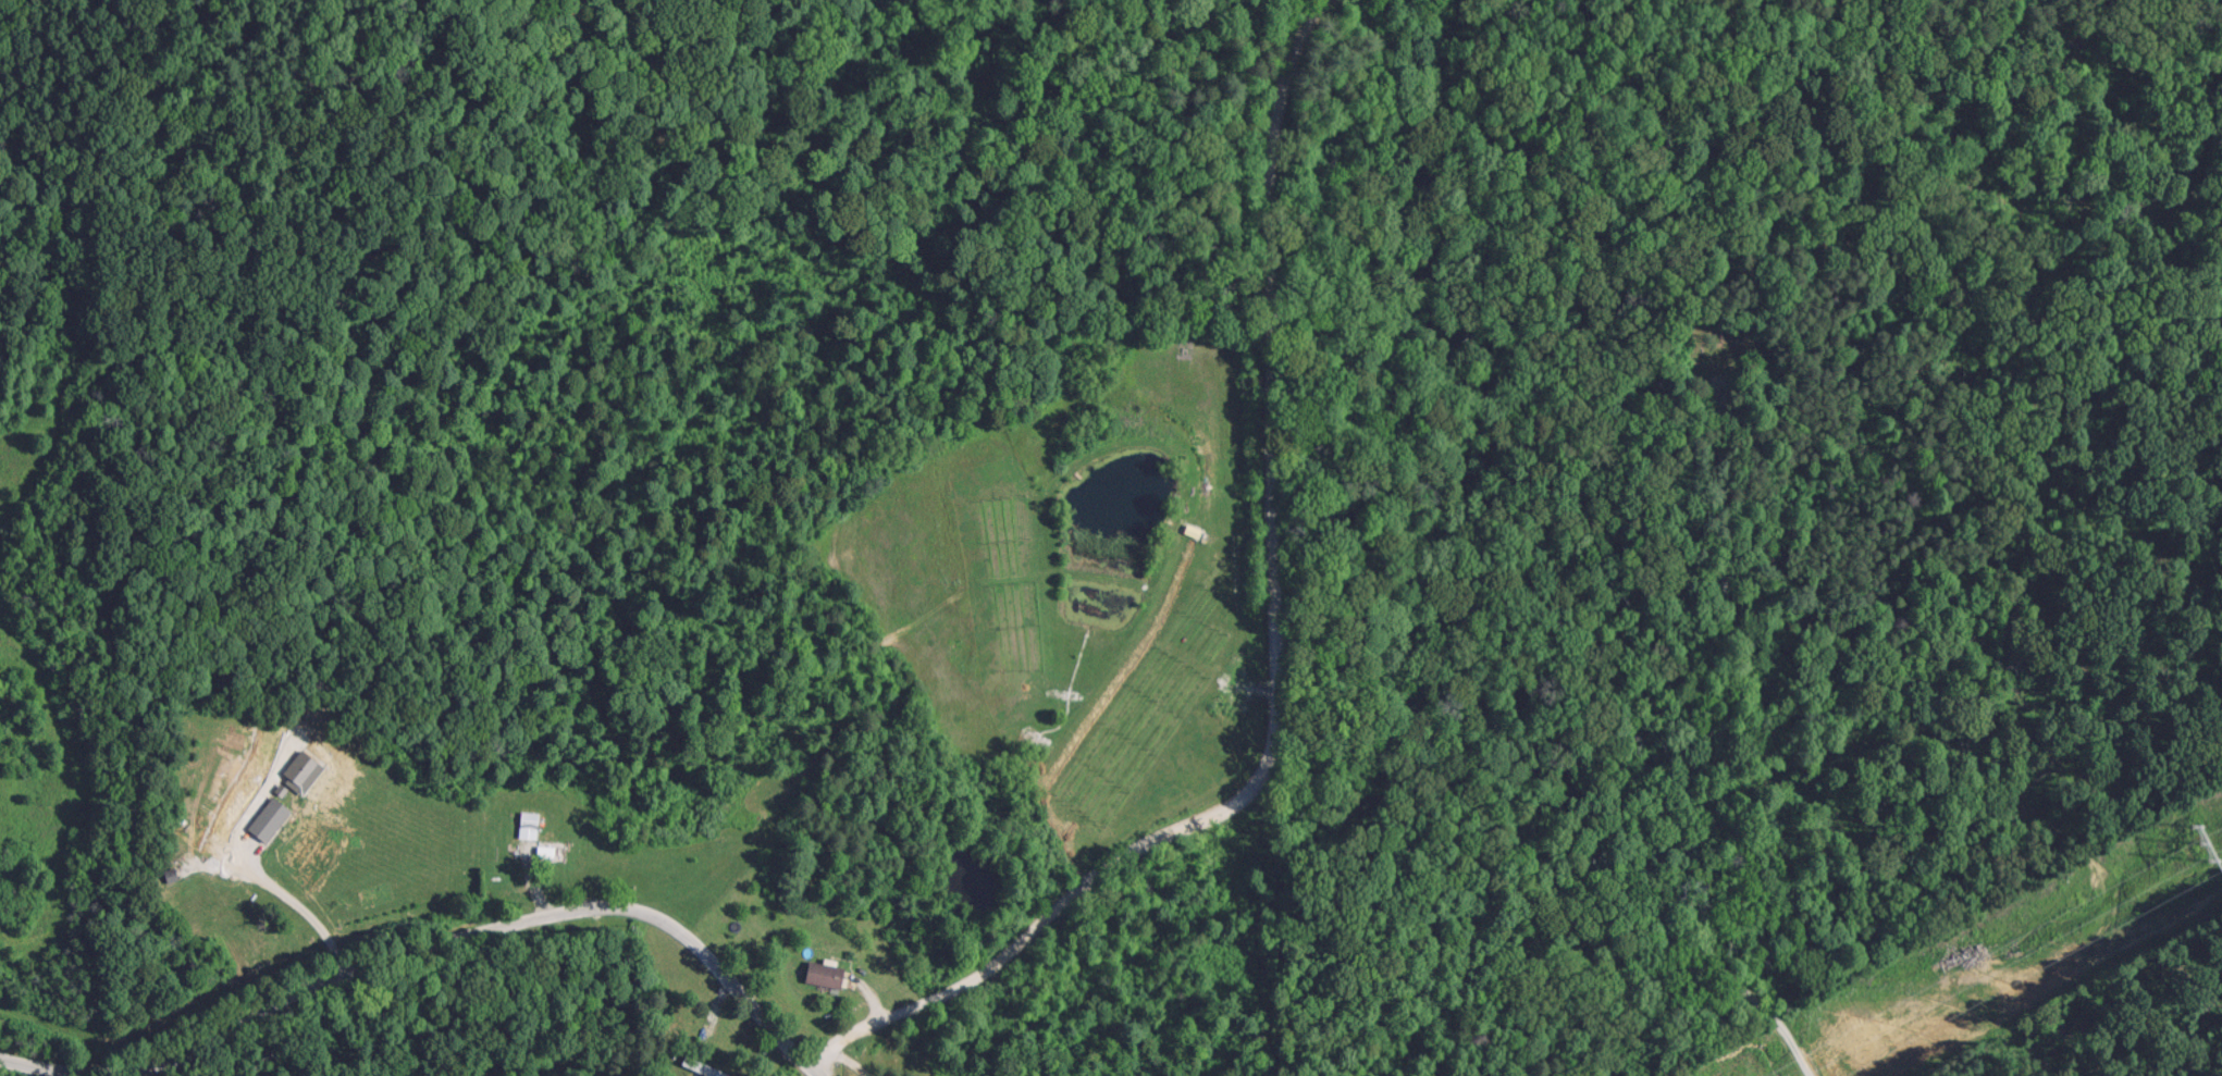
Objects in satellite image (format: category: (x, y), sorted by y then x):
road: (1270, 652)
road: (1727, 721)
building: (271, 817)
building: (528, 818)
power tower: (2199, 846)
building: (551, 849)
road: (299, 910)
road: (419, 948)
building: (828, 973)
road: (842, 1061)
road: (814, 1065)
building: (701, 1066)

